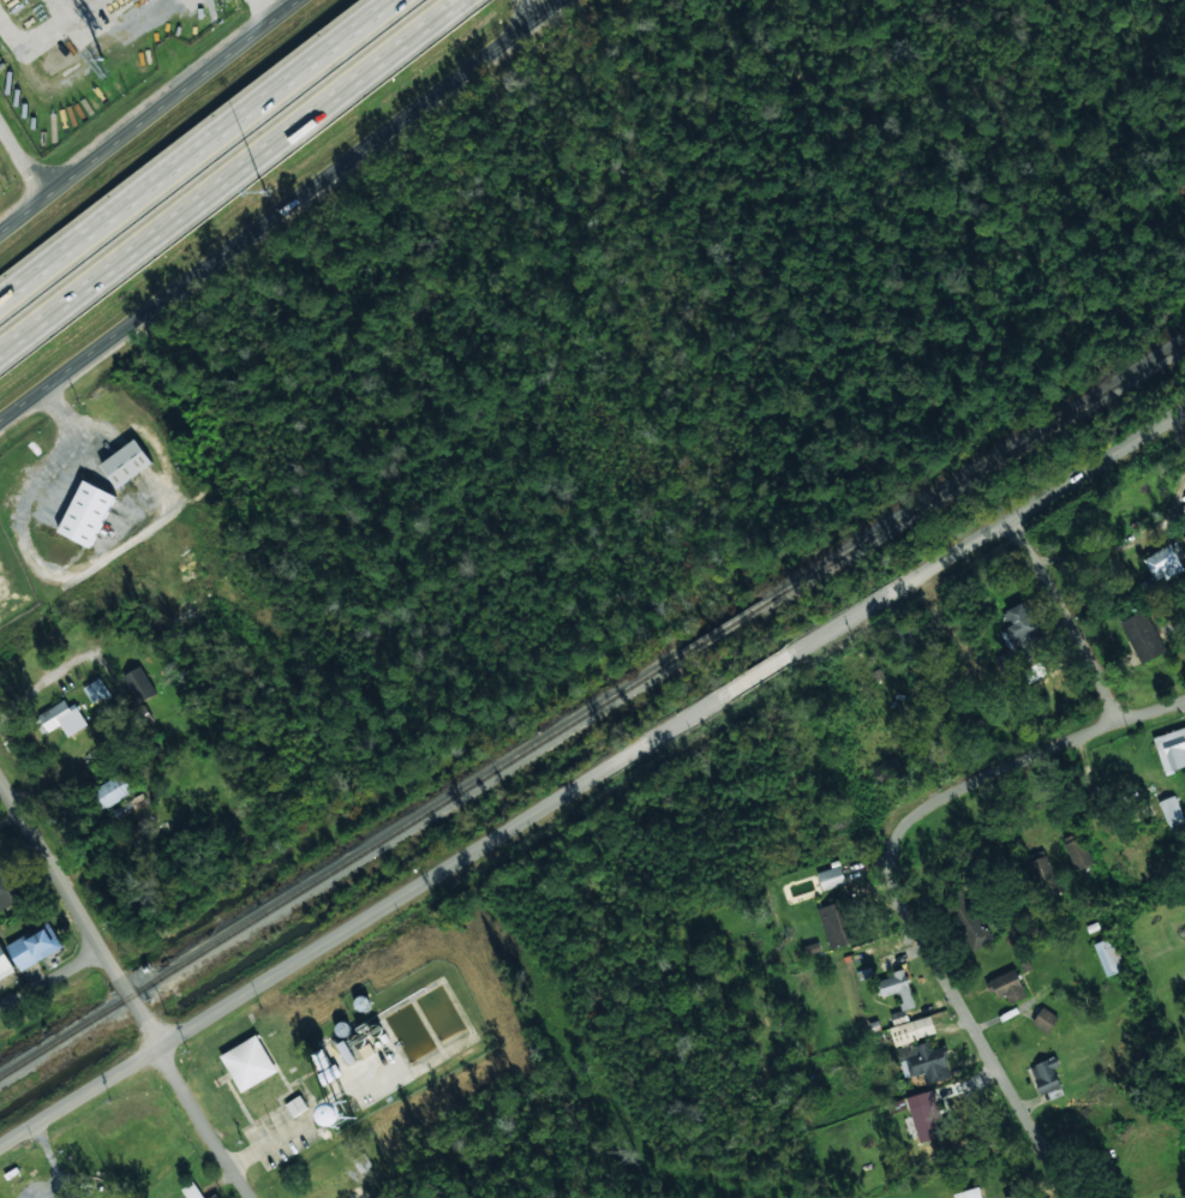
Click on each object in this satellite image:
road: (514, 17)
road: (146, 115)
road: (192, 151)
road: (22, 160)
road: (216, 161)
road: (277, 211)
building: (126, 463)
building: (86, 514)
road: (1142, 523)
building: (1165, 562)
road: (1061, 617)
building: (1018, 633)
building: (1142, 636)
road: (20, 676)
building: (138, 684)
building: (96, 689)
railway: (592, 705)
building: (60, 718)
building: (1171, 749)
road: (1013, 762)
road: (591, 768)
building: (887, 769)
building: (112, 791)
building: (1173, 814)
building: (1077, 851)
building: (933, 870)
building: (830, 876)
building: (1042, 876)
building: (7, 892)
building: (968, 921)
building: (837, 924)
building: (34, 946)
building: (1108, 956)
building: (5, 965)
road: (48, 974)
building: (896, 987)
building: (1006, 987)
road: (124, 988)
building: (1045, 1019)
building: (342, 1029)
building: (911, 1030)
road: (975, 1037)
building: (321, 1060)
building: (249, 1062)
building: (328, 1073)
building: (1046, 1074)
building: (295, 1106)
building: (924, 1115)
road: (359, 1190)
building: (969, 1193)
building: (1012, 1196)
building: (215, 1197)

